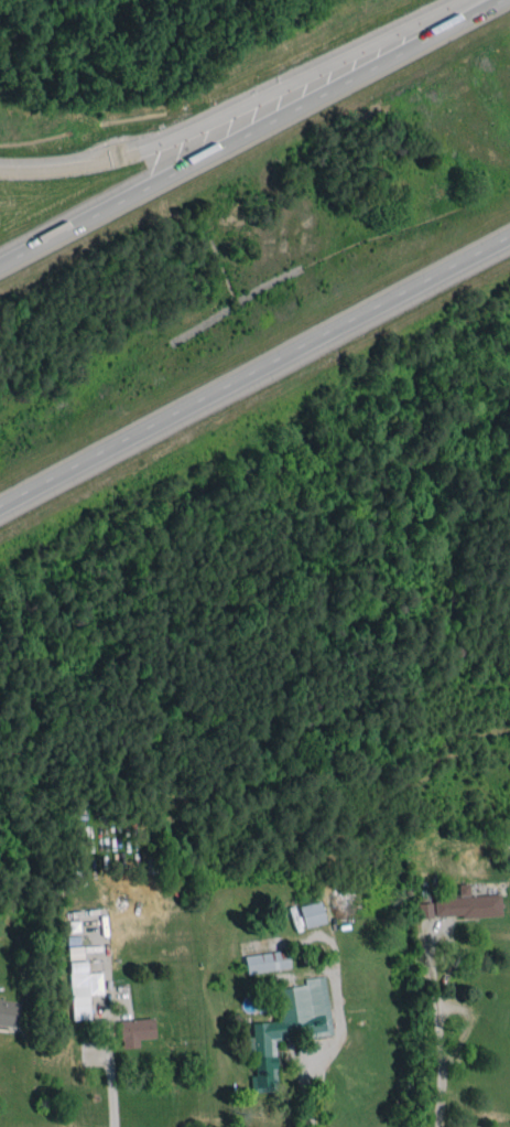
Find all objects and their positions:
road: (237, 110)
road: (248, 131)
road: (254, 366)
building: (467, 903)
building: (425, 910)
building: (312, 913)
building: (267, 960)
building: (79, 989)
building: (9, 1012)
road: (440, 1022)
building: (132, 1024)
building: (289, 1026)
road: (111, 1077)

